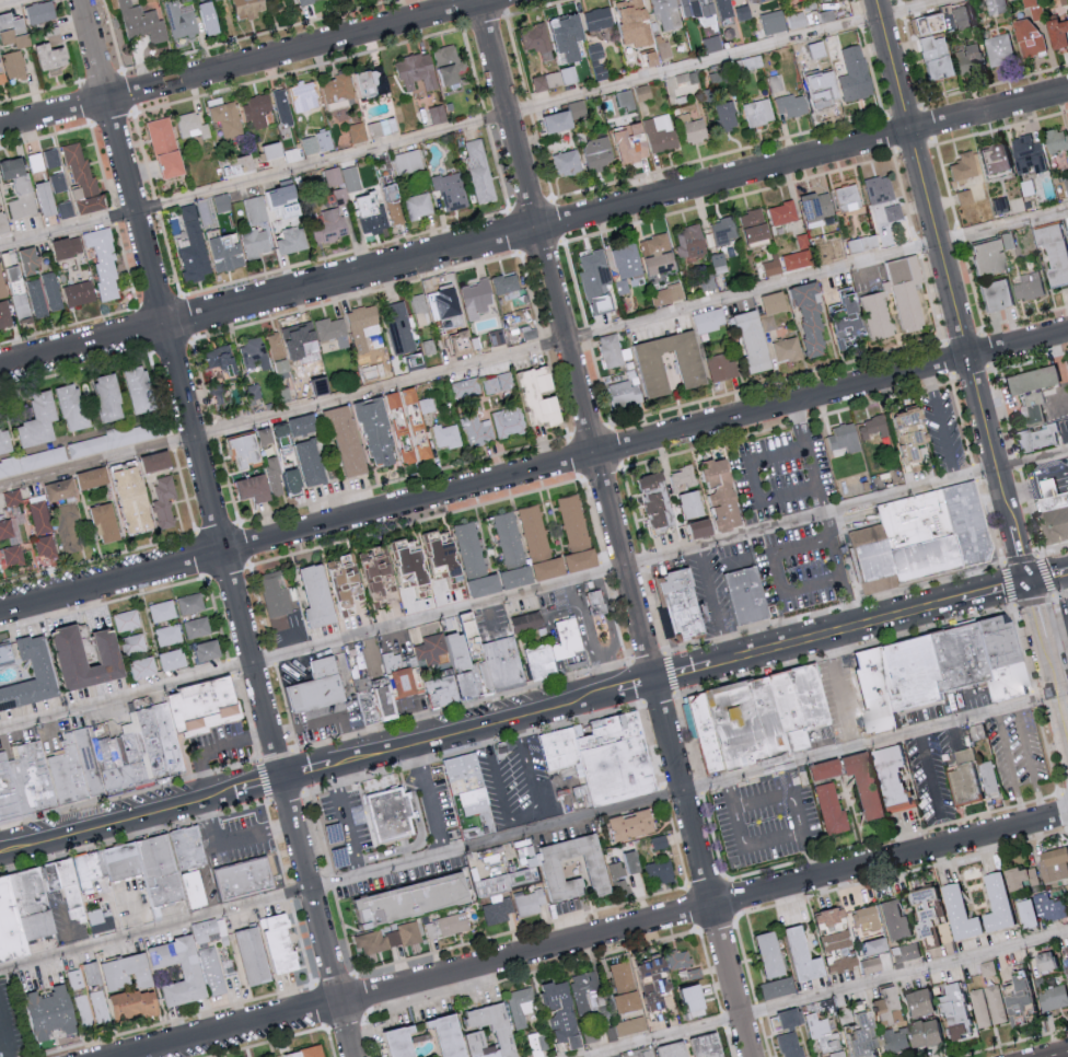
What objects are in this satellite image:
building: (306, 1)
building: (1026, 2)
road: (16, 3)
building: (996, 5)
building: (694, 7)
building: (722, 8)
building: (251, 9)
building: (741, 12)
building: (42, 13)
building: (664, 14)
building: (959, 16)
building: (209, 19)
building: (597, 19)
building: (796, 20)
building: (181, 21)
building: (769, 22)
building: (142, 23)
building: (629, 23)
building: (15, 31)
building: (1056, 31)
building: (1026, 35)
building: (571, 36)
building: (1066, 36)
building: (535, 37)
building: (710, 43)
building: (998, 48)
building: (933, 57)
building: (53, 58)
building: (967, 58)
building: (451, 65)
building: (15, 66)
road: (253, 66)
building: (2, 69)
building: (418, 72)
building: (851, 73)
building: (555, 80)
building: (774, 82)
building: (372, 84)
building: (340, 91)
building: (640, 93)
building: (306, 96)
building: (788, 105)
building: (282, 107)
building: (257, 111)
building: (755, 112)
building: (438, 115)
building: (723, 115)
building: (227, 117)
road: (479, 120)
building: (550, 120)
building: (690, 125)
building: (193, 127)
building: (384, 128)
building: (658, 132)
building: (358, 133)
building: (1055, 139)
building: (317, 143)
building: (623, 143)
building: (167, 149)
building: (275, 151)
building: (594, 152)
building: (1026, 153)
building: (991, 156)
building: (44, 161)
building: (409, 162)
building: (565, 162)
building: (961, 166)
building: (480, 171)
building: (333, 177)
building: (352, 179)
building: (84, 181)
building: (59, 183)
building: (1065, 185)
building: (21, 189)
building: (877, 189)
building: (451, 190)
building: (286, 196)
building: (844, 197)
building: (962, 197)
building: (47, 199)
building: (394, 205)
building: (420, 206)
building: (812, 206)
building: (66, 210)
building: (256, 211)
building: (292, 211)
building: (892, 211)
building: (779, 212)
building: (371, 214)
building: (4, 224)
building: (329, 226)
building: (751, 228)
building: (721, 230)
road: (534, 231)
building: (887, 232)
building: (1006, 240)
building: (293, 241)
building: (688, 241)
building: (861, 243)
building: (257, 244)
building: (195, 247)
building: (832, 248)
building: (1052, 252)
building: (229, 253)
building: (655, 254)
building: (796, 254)
building: (982, 256)
building: (32, 260)
building: (625, 260)
building: (105, 264)
building: (769, 267)
building: (711, 271)
building: (593, 280)
building: (503, 282)
building: (3, 284)
building: (1028, 286)
building: (620, 287)
building: (53, 292)
road: (950, 293)
building: (991, 293)
building: (81, 294)
building: (666, 294)
building: (473, 299)
building: (891, 299)
building: (38, 300)
building: (438, 303)
building: (23, 309)
building: (418, 309)
building: (769, 309)
building: (5, 316)
building: (806, 317)
building: (838, 317)
building: (707, 320)
building: (360, 325)
building: (398, 327)
building: (329, 330)
building: (295, 337)
building: (495, 337)
building: (746, 340)
building: (786, 349)
road: (534, 352)
building: (263, 359)
building: (222, 360)
building: (650, 360)
building: (718, 365)
building: (368, 372)
building: (1026, 379)
building: (494, 384)
building: (317, 385)
building: (463, 387)
building: (142, 391)
building: (620, 393)
building: (251, 394)
building: (531, 396)
building: (111, 398)
building: (426, 405)
building: (1029, 405)
building: (74, 408)
building: (42, 420)
building: (502, 421)
building: (295, 425)
building: (870, 426)
road: (943, 426)
building: (386, 428)
building: (475, 429)
building: (138, 434)
building: (258, 435)
building: (444, 435)
building: (841, 437)
building: (903, 437)
building: (1034, 437)
building: (339, 438)
building: (7, 441)
building: (92, 445)
road: (812, 445)
building: (233, 450)
building: (33, 461)
building: (159, 461)
building: (304, 462)
road: (1032, 462)
road: (533, 473)
building: (681, 476)
building: (95, 477)
building: (279, 478)
road: (1034, 481)
road: (758, 483)
building: (248, 488)
building: (63, 489)
building: (13, 498)
building: (136, 498)
building: (165, 499)
building: (648, 499)
building: (709, 500)
building: (684, 503)
building: (1050, 510)
building: (40, 516)
building: (107, 522)
parking lot: (794, 523)
building: (967, 524)
road: (218, 527)
road: (615, 527)
building: (5, 528)
building: (532, 532)
building: (918, 537)
building: (508, 539)
building: (565, 543)
building: (46, 547)
building: (468, 549)
building: (433, 553)
building: (14, 555)
building: (402, 561)
building: (873, 561)
building: (369, 574)
building: (494, 581)
building: (339, 590)
road: (808, 591)
building: (310, 596)
parking lot: (709, 596)
building: (745, 596)
building: (272, 599)
road: (498, 602)
building: (191, 603)
road: (850, 605)
building: (601, 606)
road: (711, 607)
building: (678, 609)
building: (163, 611)
parking lot: (1064, 617)
building: (531, 623)
building: (197, 627)
road: (1054, 631)
building: (463, 634)
building: (169, 635)
building: (571, 640)
building: (136, 642)
building: (73, 647)
building: (209, 650)
building: (426, 650)
building: (449, 651)
building: (7, 653)
building: (479, 653)
building: (959, 655)
building: (1000, 657)
building: (173, 659)
building: (545, 663)
building: (508, 664)
road: (1047, 665)
building: (144, 667)
building: (45, 670)
building: (910, 672)
building: (406, 676)
building: (469, 686)
building: (321, 687)
building: (446, 688)
road: (843, 694)
building: (874, 695)
building: (388, 700)
building: (370, 701)
building: (797, 701)
building: (206, 707)
road: (534, 715)
building: (744, 723)
building: (704, 732)
road: (270, 735)
building: (170, 740)
road: (875, 745)
building: (564, 750)
building: (153, 751)
building: (619, 757)
building: (92, 762)
building: (123, 763)
parking lot: (1032, 763)
road: (1030, 765)
building: (819, 769)
road: (1008, 771)
road: (929, 774)
building: (70, 777)
building: (961, 777)
building: (890, 778)
building: (987, 778)
building: (35, 781)
parking lot: (938, 781)
building: (860, 782)
parking lot: (518, 786)
building: (8, 791)
building: (469, 798)
road: (431, 801)
road: (767, 803)
building: (828, 808)
building: (393, 815)
road: (527, 821)
road: (349, 823)
road: (804, 824)
building: (625, 825)
parking lot: (759, 834)
road: (423, 839)
building: (658, 841)
road: (231, 845)
road: (746, 847)
building: (186, 849)
building: (123, 862)
building: (1053, 863)
building: (620, 866)
building: (91, 868)
building: (546, 868)
building: (159, 871)
building: (657, 872)
building: (54, 876)
building: (1020, 876)
building: (244, 880)
road: (343, 885)
building: (504, 886)
building: (620, 886)
building: (191, 891)
building: (73, 892)
road: (206, 896)
building: (402, 899)
building: (995, 902)
building: (35, 905)
building: (1049, 907)
road: (137, 908)
building: (956, 913)
building: (1029, 913)
building: (864, 917)
building: (891, 920)
building: (102, 921)
road: (68, 924)
building: (11, 925)
building: (445, 926)
road: (604, 936)
building: (387, 938)
building: (831, 940)
building: (282, 943)
building: (869, 946)
building: (904, 952)
building: (762, 954)
building: (254, 955)
building: (676, 959)
building: (1064, 959)
building: (1042, 960)
building: (184, 964)
building: (869, 965)
building: (789, 966)
building: (986, 967)
building: (213, 971)
building: (94, 973)
building: (129, 973)
building: (634, 985)
road: (820, 992)
building: (585, 995)
building: (1054, 998)
building: (913, 1003)
building: (996, 1003)
building: (136, 1004)
building: (100, 1007)
building: (519, 1007)
building: (881, 1007)
building: (980, 1008)
building: (85, 1010)
building: (952, 1010)
building: (554, 1011)
building: (54, 1012)
building: (785, 1018)
building: (629, 1025)
building: (496, 1029)
building: (608, 1033)
building: (821, 1033)
building: (437, 1035)
building: (909, 1035)
road: (282, 1037)
building: (851, 1037)
road: (4, 1038)
building: (387, 1043)
building: (790, 1044)
building: (700, 1045)
building: (666, 1049)
building: (304, 1054)
building: (639, 1054)
road: (1060, 1055)

